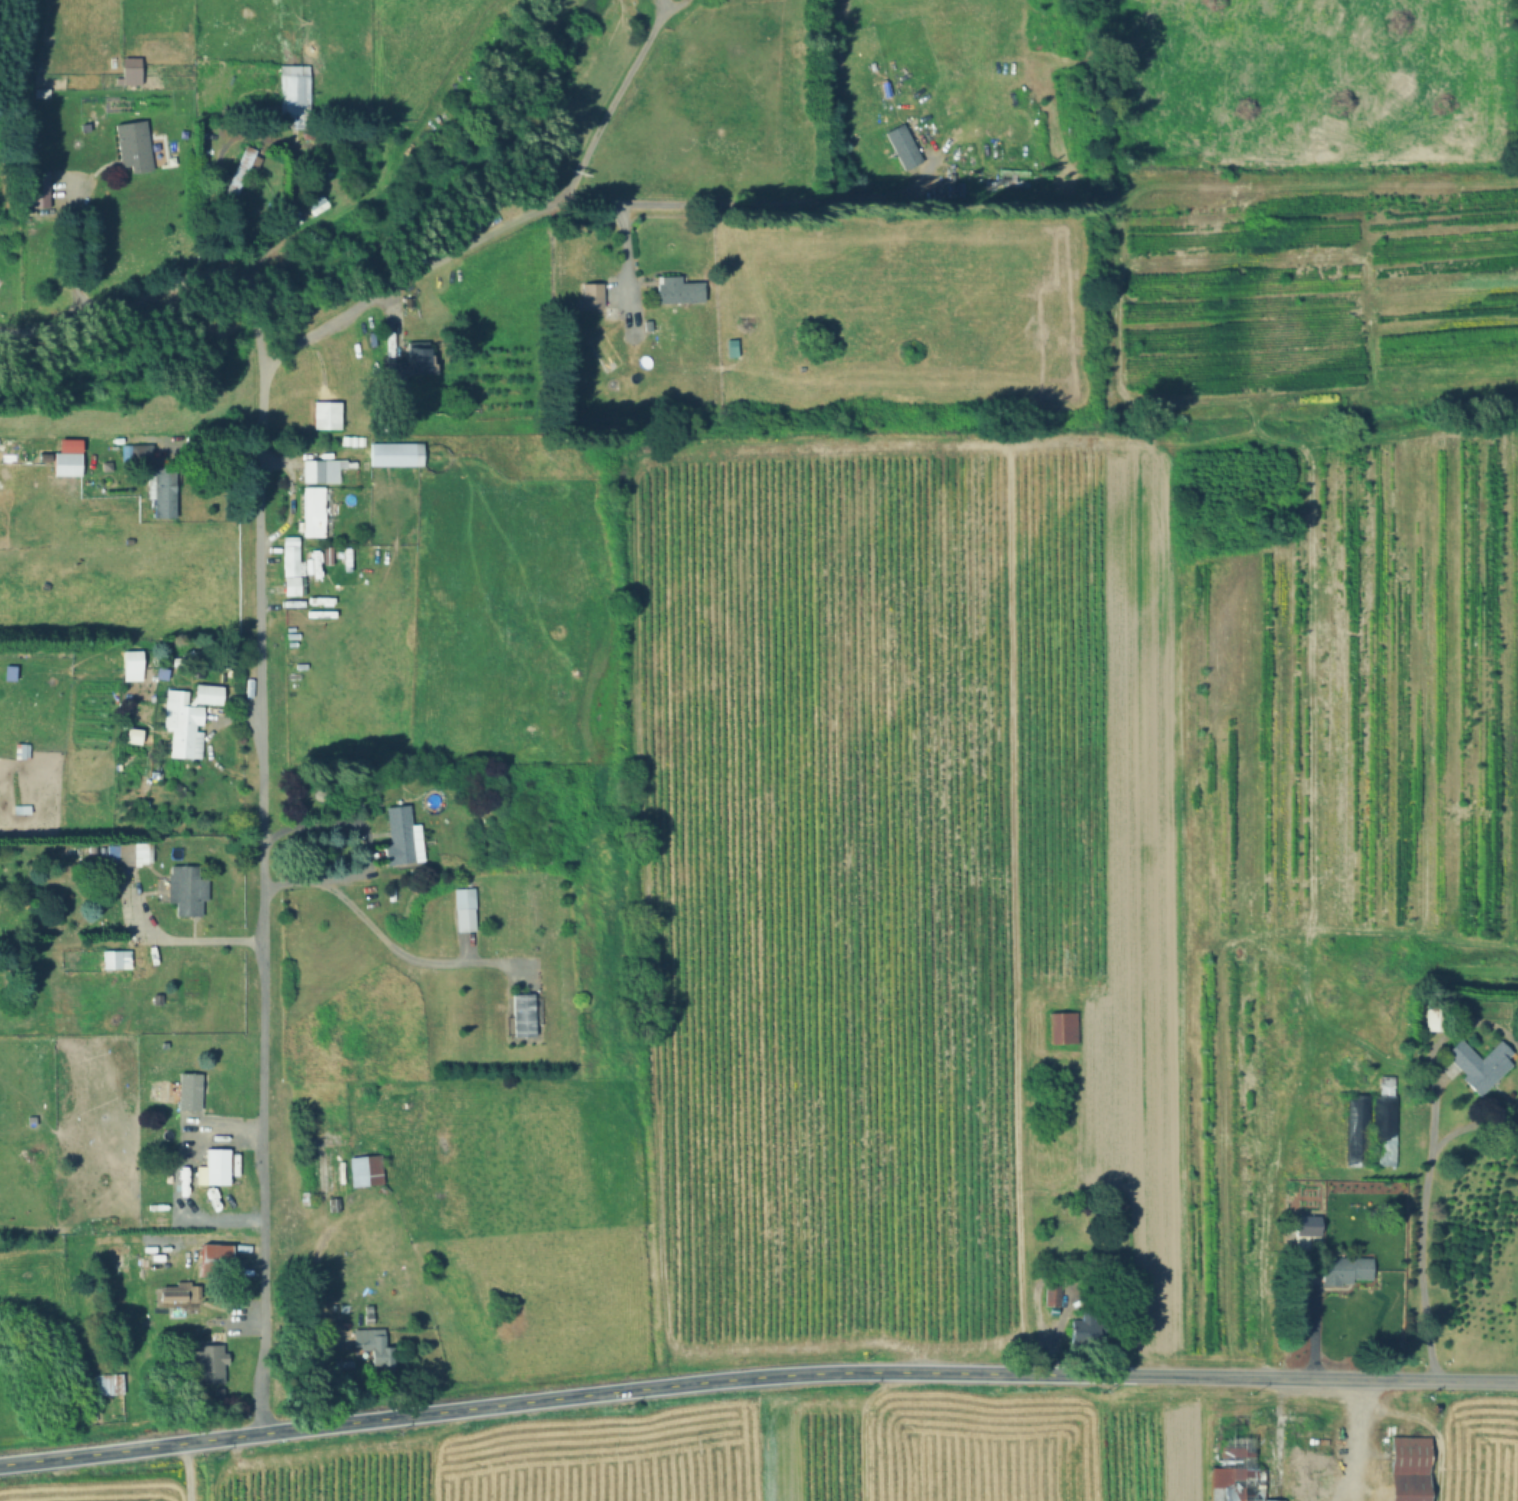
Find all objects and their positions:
building: (127, 69)
building: (292, 93)
road: (611, 100)
building: (130, 145)
building: (900, 147)
building: (240, 173)
building: (35, 189)
building: (314, 204)
road: (557, 205)
road: (73, 250)
road: (624, 252)
building: (675, 290)
building: (588, 295)
road: (124, 304)
building: (403, 364)
building: (323, 415)
building: (138, 453)
building: (393, 453)
building: (63, 464)
building: (321, 470)
building: (160, 492)
building: (310, 511)
building: (289, 567)
building: (129, 666)
building: (186, 719)
crop: (1050, 723)
building: (397, 838)
road: (261, 848)
building: (126, 853)
building: (183, 889)
building: (462, 910)
road: (377, 935)
road: (174, 937)
building: (110, 960)
building: (520, 1016)
building: (1432, 1017)
building: (1060, 1028)
building: (1475, 1065)
building: (187, 1091)
building: (1384, 1121)
building: (1357, 1130)
building: (211, 1168)
building: (363, 1171)
road: (1421, 1224)
building: (1306, 1229)
building: (211, 1261)
building: (1343, 1270)
building: (1049, 1295)
building: (1083, 1328)
road: (1319, 1329)
building: (371, 1347)
building: (205, 1363)
road: (756, 1375)
road: (1360, 1442)
crop: (1479, 1451)
crop: (721, 1456)
building: (1250, 1465)
building: (1406, 1468)

